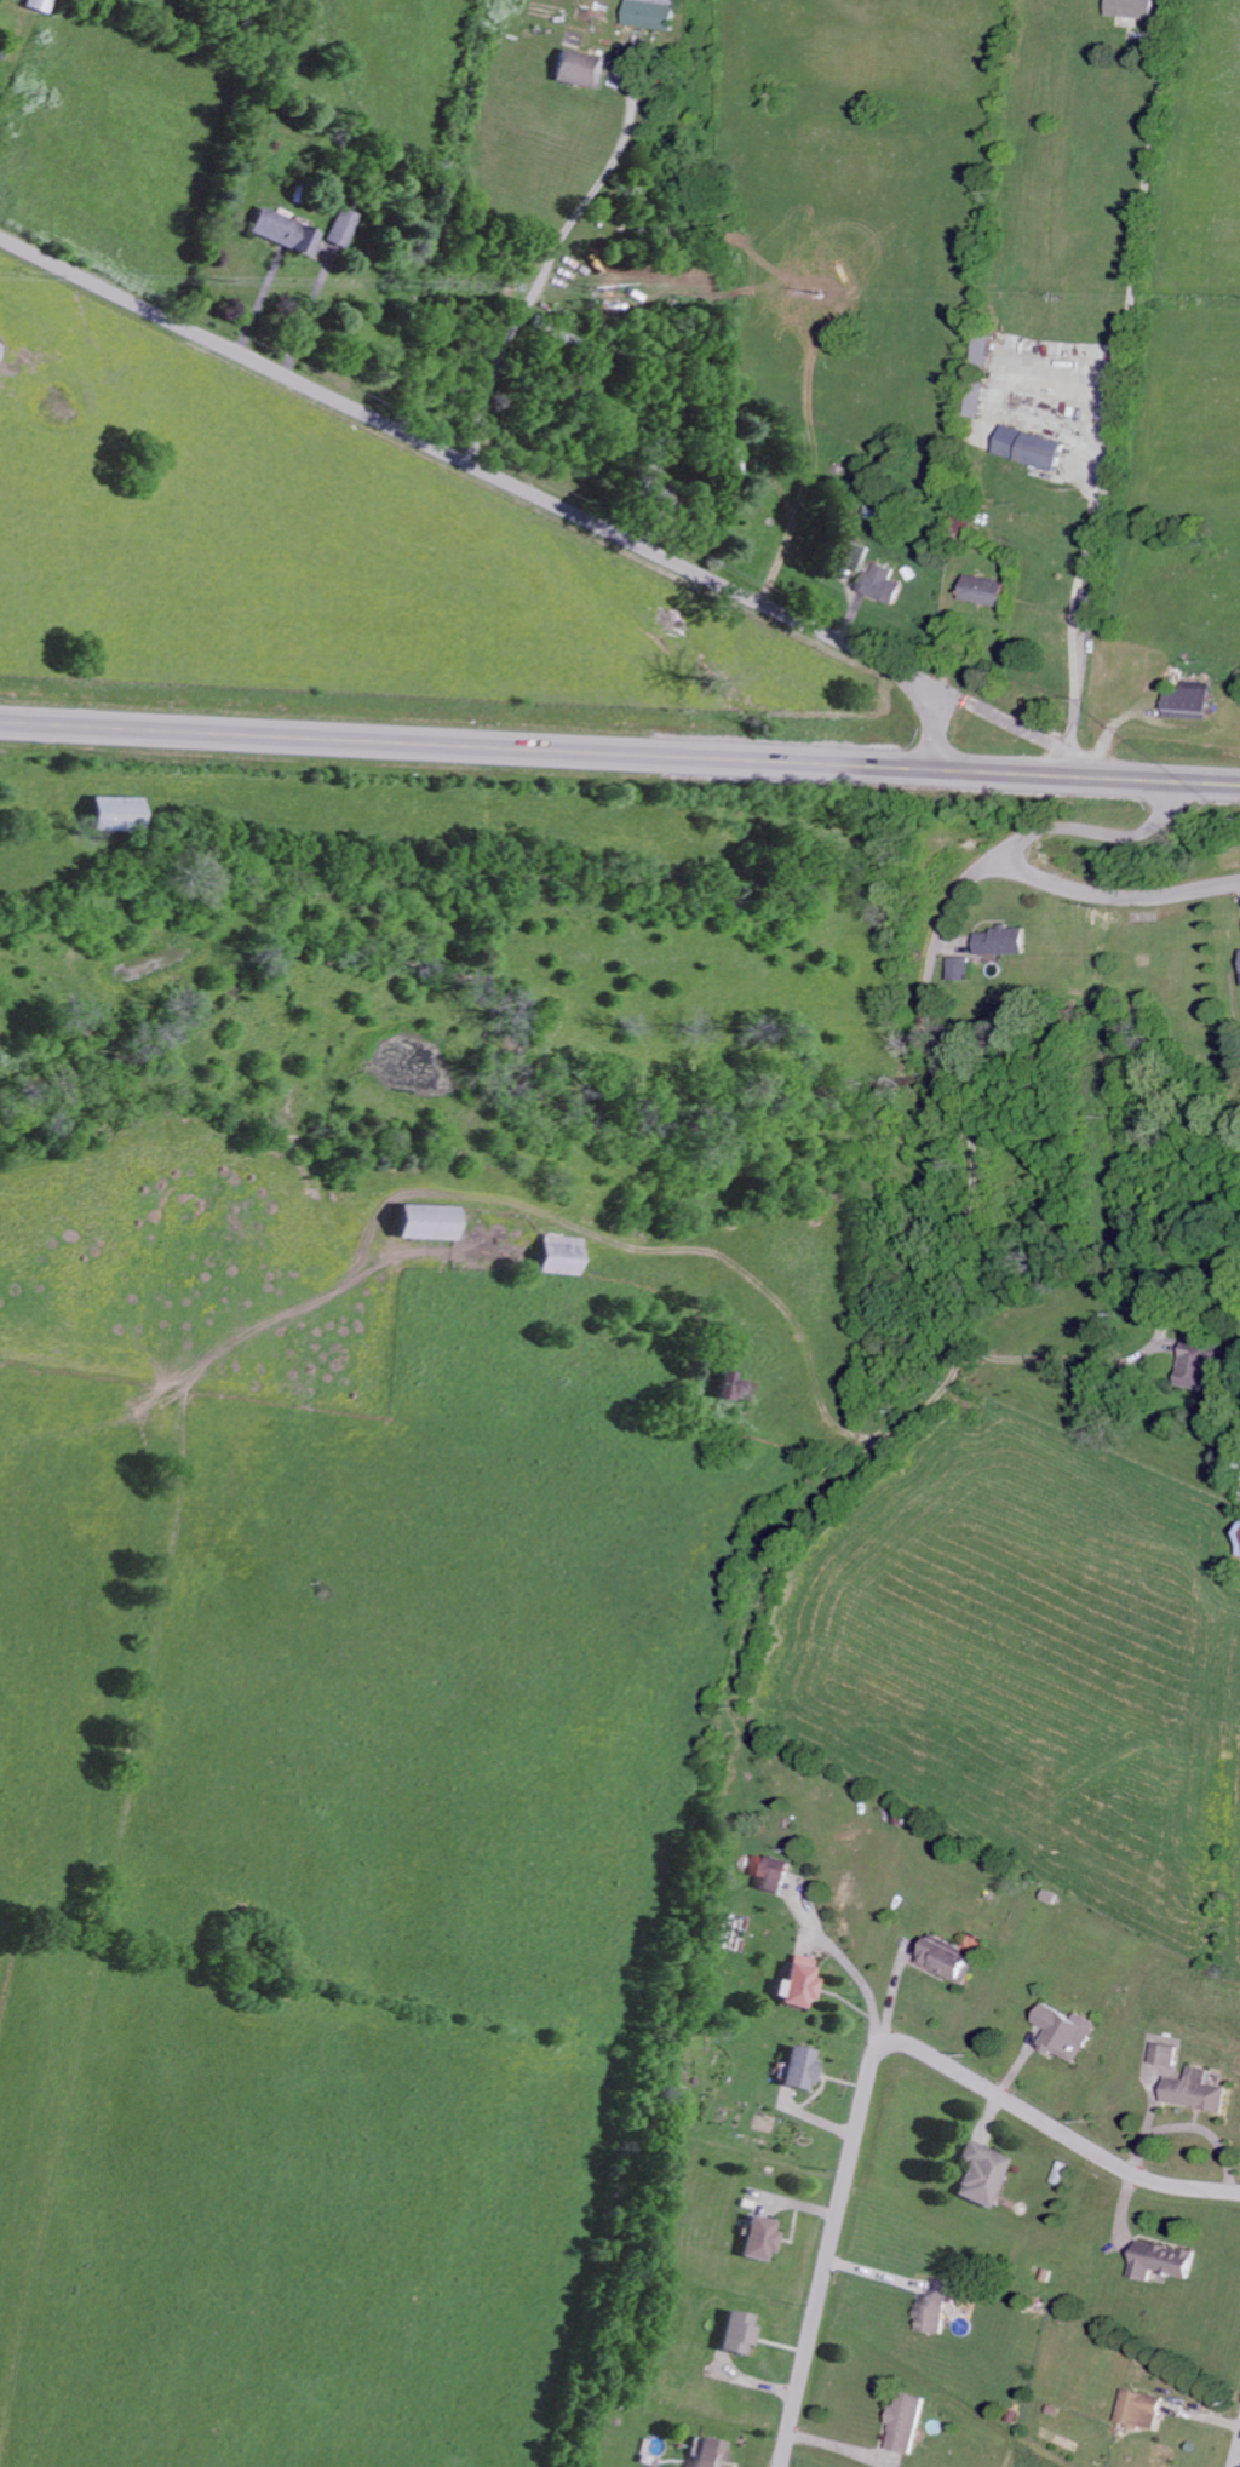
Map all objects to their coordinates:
building: (38, 5)
building: (1130, 8)
building: (651, 13)
road: (16, 59)
building: (579, 68)
building: (344, 228)
building: (282, 231)
road: (545, 259)
building: (981, 350)
road: (1113, 390)
road: (1001, 391)
building: (974, 401)
building: (1027, 447)
road: (500, 476)
building: (655, 493)
building: (856, 558)
building: (879, 584)
building: (981, 590)
building: (1187, 702)
road: (619, 757)
building: (113, 814)
road: (969, 882)
road: (1114, 899)
building: (1000, 941)
building: (958, 969)
building: (421, 1223)
road: (965, 1250)
building: (558, 1256)
road: (1062, 1358)
building: (1202, 1367)
building: (731, 1388)
building: (1239, 1544)
building: (776, 1875)
building: (947, 1960)
road: (848, 1964)
building: (796, 1981)
building: (1063, 2033)
building: (1164, 2054)
road: (872, 2062)
building: (797, 2067)
building: (1195, 2090)
building: (978, 2173)
building: (757, 2238)
building: (1160, 2261)
building: (935, 2307)
building: (735, 2333)
building: (1139, 2409)
building: (906, 2423)
building: (708, 2454)
road: (1236, 2455)

